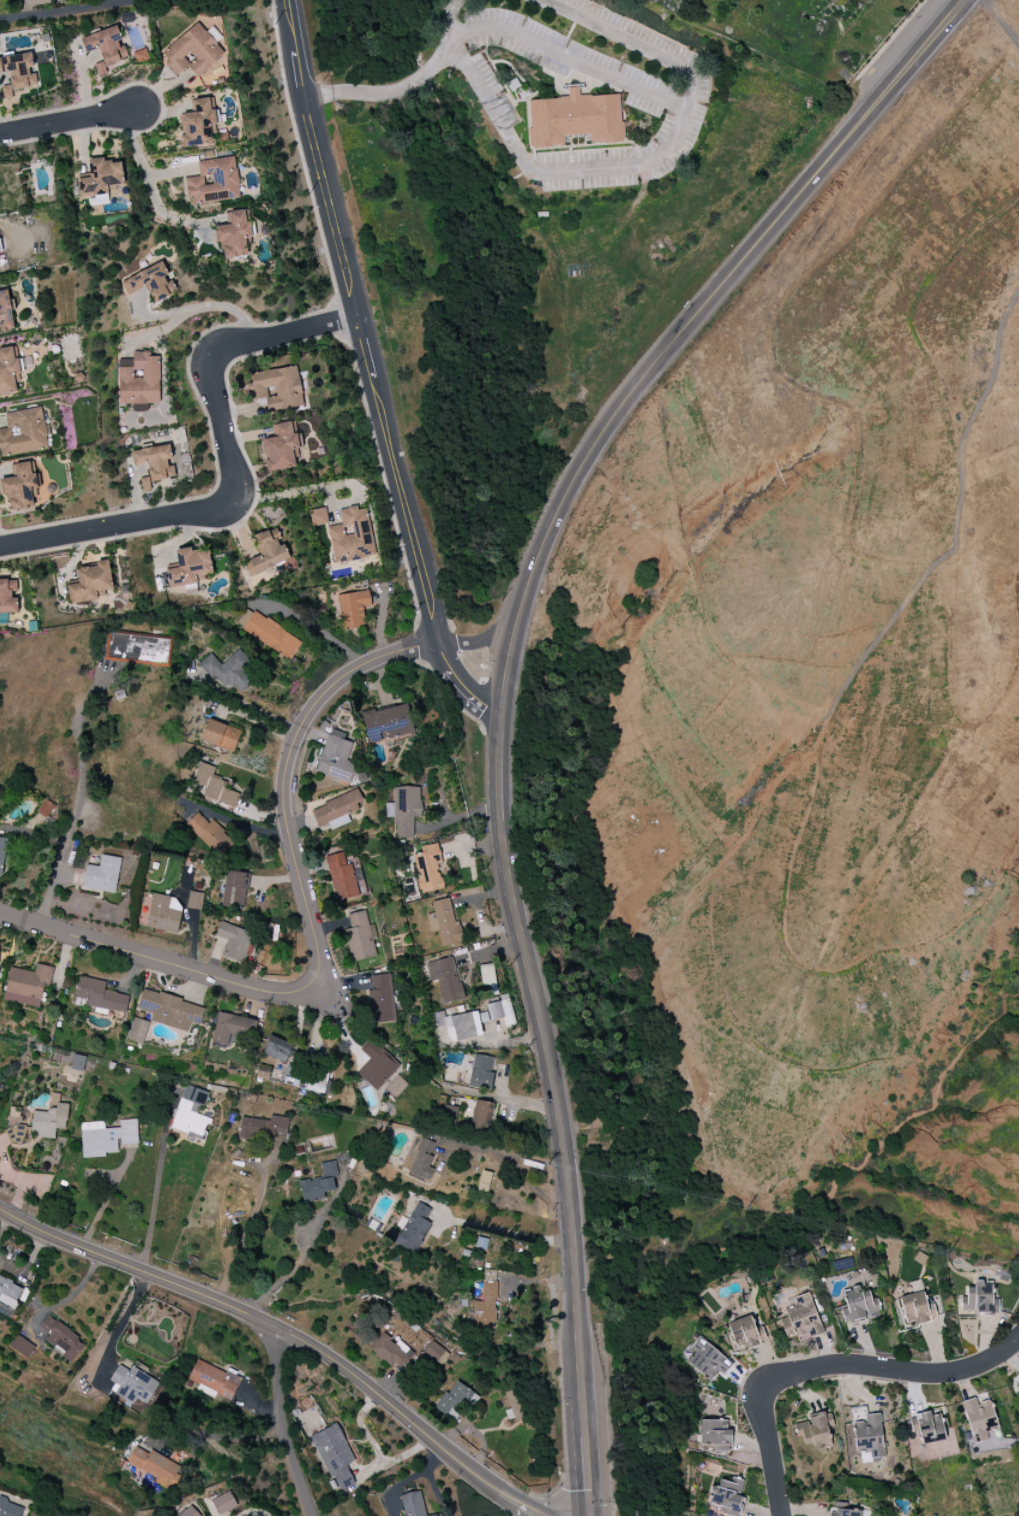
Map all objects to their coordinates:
road: (71, 11)
road: (455, 14)
road: (1001, 21)
road: (886, 45)
building: (105, 48)
building: (193, 51)
building: (140, 55)
building: (18, 73)
road: (394, 86)
road: (664, 98)
building: (575, 119)
road: (64, 123)
building: (199, 123)
road: (543, 173)
building: (102, 178)
building: (214, 181)
road: (150, 183)
building: (234, 235)
building: (149, 282)
road: (220, 308)
building: (6, 311)
road: (686, 331)
road: (373, 368)
building: (9, 370)
building: (139, 379)
building: (277, 388)
building: (23, 432)
building: (282, 447)
building: (155, 464)
road: (229, 465)
building: (21, 487)
road: (314, 489)
building: (318, 517)
building: (351, 536)
building: (267, 552)
building: (189, 568)
building: (91, 583)
building: (8, 596)
building: (352, 608)
road: (315, 626)
building: (268, 633)
road: (480, 639)
building: (138, 649)
building: (230, 670)
road: (248, 705)
building: (387, 723)
building: (221, 735)
road: (81, 755)
building: (336, 757)
road: (498, 766)
road: (285, 773)
building: (214, 786)
building: (337, 810)
building: (209, 833)
building: (2, 853)
building: (428, 868)
building: (102, 874)
building: (341, 877)
road: (56, 882)
building: (235, 889)
building: (195, 900)
building: (164, 914)
building: (444, 922)
building: (359, 937)
building: (234, 941)
building: (0, 943)
road: (154, 959)
building: (487, 975)
building: (445, 978)
building: (27, 985)
building: (100, 995)
building: (382, 999)
building: (170, 1010)
building: (474, 1020)
road: (337, 1023)
building: (232, 1027)
building: (138, 1031)
road: (300, 1032)
building: (277, 1049)
building: (78, 1062)
building: (377, 1065)
building: (481, 1072)
road: (514, 1099)
building: (449, 1112)
building: (191, 1113)
building: (481, 1116)
building: (49, 1119)
road: (562, 1125)
building: (14, 1127)
building: (264, 1128)
building: (106, 1138)
building: (423, 1159)
building: (484, 1181)
building: (319, 1183)
road: (108, 1201)
road: (156, 1202)
building: (413, 1228)
road: (247, 1233)
road: (509, 1234)
building: (842, 1265)
road: (294, 1270)
building: (9, 1292)
building: (978, 1299)
building: (858, 1306)
building: (916, 1309)
building: (801, 1318)
road: (122, 1321)
road: (282, 1332)
building: (743, 1333)
building: (62, 1339)
road: (1018, 1341)
building: (22, 1346)
building: (391, 1352)
building: (435, 1353)
building: (706, 1359)
road: (836, 1373)
building: (214, 1379)
building: (132, 1384)
building: (455, 1399)
building: (979, 1419)
road: (279, 1425)
building: (930, 1427)
building: (816, 1430)
building: (715, 1434)
road: (220, 1436)
building: (869, 1437)
building: (335, 1456)
building: (155, 1466)
road: (588, 1477)
building: (727, 1495)
building: (223, 1502)
building: (412, 1504)
building: (10, 1509)
building: (186, 1512)
road: (253, 1512)
building: (844, 1512)
building: (434, 1515)

